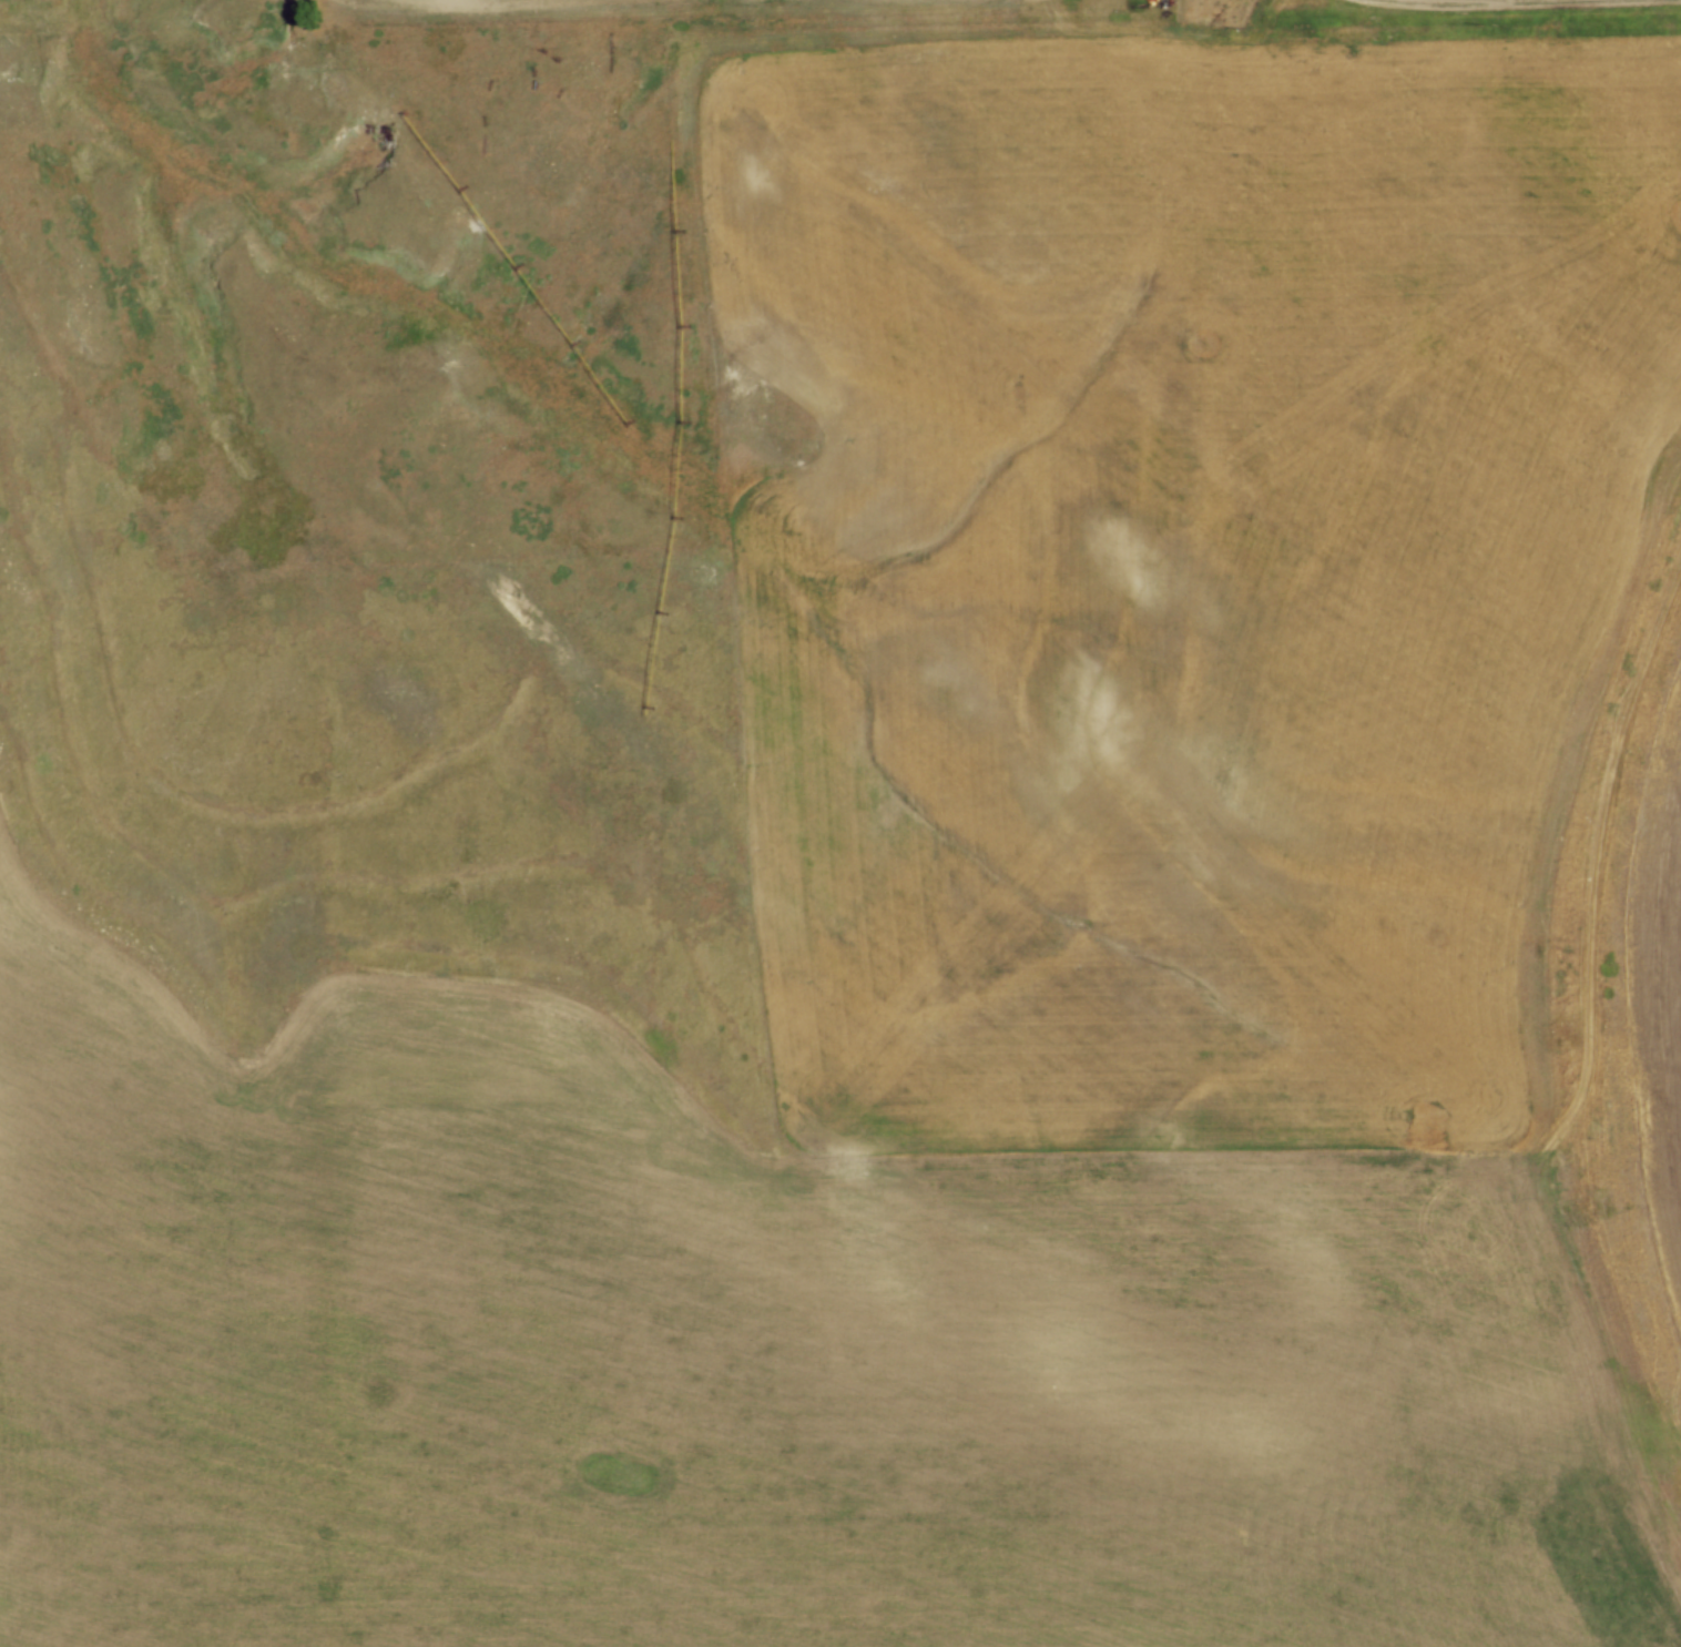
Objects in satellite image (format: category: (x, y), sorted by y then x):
crop: (554, 2)
crop: (972, 943)
crop: (1648, 993)

